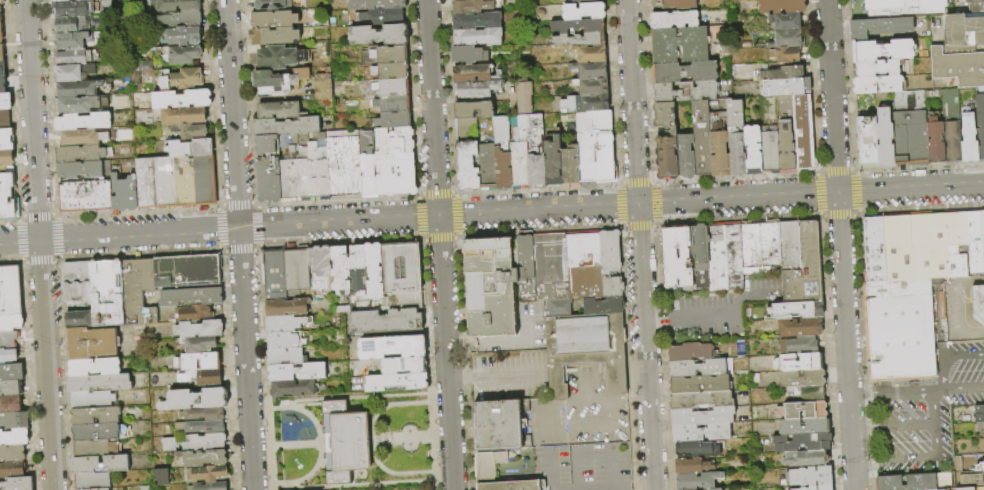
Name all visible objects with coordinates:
building: (60, 0)
building: (580, 1)
building: (2, 2)
building: (273, 4)
building: (376, 4)
building: (676, 4)
building: (176, 5)
building: (882, 5)
building: (974, 5)
building: (471, 6)
building: (781, 6)
building: (0, 8)
building: (76, 8)
building: (583, 11)
building: (0, 16)
building: (378, 17)
building: (182, 19)
building: (273, 20)
building: (476, 20)
building: (673, 20)
building: (787, 21)
building: (71, 24)
building: (880, 28)
building: (963, 29)
building: (1, 32)
building: (593, 33)
building: (379, 35)
building: (185, 36)
building: (274, 36)
building: (477, 36)
building: (787, 39)
building: (70, 40)
building: (680, 45)
building: (882, 51)
building: (1, 53)
building: (181, 54)
building: (467, 54)
building: (591, 54)
building: (787, 54)
building: (385, 55)
building: (76, 57)
building: (280, 57)
building: (146, 66)
building: (958, 68)
building: (2, 69)
building: (876, 69)
building: (592, 70)
building: (385, 72)
building: (683, 72)
building: (74, 73)
building: (471, 73)
building: (786, 73)
building: (135, 78)
building: (181, 79)
building: (279, 82)
building: (2, 85)
building: (879, 85)
building: (323, 86)
building: (593, 87)
building: (786, 87)
building: (80, 88)
building: (388, 88)
building: (475, 88)
building: (933, 94)
building: (688, 96)
building: (523, 97)
building: (179, 98)
building: (5, 101)
road: (631, 102)
building: (392, 103)
building: (585, 103)
building: (77, 105)
building: (473, 109)
building: (278, 110)
building: (734, 113)
building: (181, 115)
building: (663, 115)
building: (4, 118)
building: (392, 120)
building: (592, 121)
building: (84, 122)
building: (980, 125)
building: (286, 126)
building: (465, 127)
building: (187, 130)
building: (909, 130)
building: (803, 133)
building: (785, 135)
building: (82, 137)
building: (884, 138)
building: (6, 139)
building: (969, 140)
building: (952, 143)
building: (265, 144)
building: (867, 144)
building: (936, 144)
building: (187, 147)
building: (701, 149)
building: (753, 150)
building: (80, 152)
building: (502, 153)
building: (719, 153)
building: (769, 153)
building: (736, 154)
building: (519, 156)
building: (685, 156)
building: (6, 158)
building: (666, 158)
building: (586, 159)
building: (605, 159)
building: (395, 161)
building: (553, 162)
building: (344, 164)
building: (367, 164)
building: (467, 166)
building: (487, 166)
building: (81, 168)
building: (570, 168)
building: (302, 169)
building: (536, 172)
building: (202, 178)
building: (268, 179)
building: (182, 180)
building: (163, 181)
building: (144, 182)
building: (122, 192)
building: (83, 194)
traffic signals: (837, 194)
road: (810, 195)
building: (8, 197)
traffic signals: (637, 205)
road: (318, 224)
road: (239, 244)
building: (768, 244)
building: (787, 244)
building: (946, 244)
road: (39, 245)
road: (438, 245)
building: (749, 245)
road: (840, 245)
building: (897, 247)
building: (873, 250)
building: (609, 251)
building: (674, 256)
building: (698, 256)
building: (732, 257)
building: (715, 258)
building: (525, 263)
building: (551, 264)
building: (583, 264)
building: (320, 266)
building: (346, 266)
building: (402, 267)
building: (803, 268)
building: (297, 269)
building: (188, 270)
building: (375, 271)
building: (275, 276)
road: (970, 282)
building: (359, 285)
building: (490, 286)
building: (611, 286)
building: (77, 287)
building: (896, 289)
building: (138, 291)
building: (10, 292)
building: (107, 293)
road: (757, 295)
building: (191, 297)
building: (404, 301)
building: (977, 303)
road: (740, 306)
building: (287, 307)
parking lot: (721, 310)
building: (793, 311)
building: (193, 313)
road: (959, 314)
road: (707, 318)
building: (80, 320)
building: (386, 321)
road: (658, 321)
building: (10, 323)
building: (288, 323)
building: (793, 327)
building: (200, 329)
building: (899, 338)
building: (8, 340)
building: (289, 340)
road: (514, 342)
building: (92, 343)
building: (585, 343)
building: (197, 344)
road: (460, 345)
building: (798, 346)
building: (392, 347)
road: (645, 347)
building: (689, 352)
building: (9, 355)
building: (286, 357)
road: (949, 357)
building: (797, 363)
building: (185, 364)
building: (404, 365)
building: (95, 367)
building: (699, 367)
building: (11, 372)
building: (297, 372)
parking lot: (508, 375)
building: (202, 377)
road: (506, 377)
road: (459, 379)
building: (801, 379)
building: (397, 382)
building: (100, 383)
building: (698, 384)
building: (11, 388)
building: (294, 388)
road: (585, 390)
street lamp: (417, 391)
road: (928, 392)
building: (807, 393)
street lamp: (374, 394)
street lamp: (331, 396)
road: (367, 396)
road: (628, 397)
road: (861, 397)
building: (700, 399)
building: (94, 400)
building: (193, 400)
road: (581, 401)
street lamp: (274, 402)
road: (397, 403)
building: (11, 404)
road: (308, 405)
road: (295, 408)
street lamp: (303, 408)
parking lot: (924, 408)
building: (800, 410)
building: (203, 414)
building: (978, 414)
building: (95, 416)
building: (700, 417)
building: (965, 418)
building: (14, 421)
building: (500, 425)
building: (201, 427)
building: (803, 427)
road: (904, 427)
street lamp: (322, 430)
road: (585, 430)
road: (863, 430)
street lamp: (400, 431)
street lamp: (417, 431)
building: (100, 432)
building: (699, 433)
road: (421, 437)
building: (14, 438)
road: (371, 439)
park: (351, 441)
building: (197, 442)
building: (345, 442)
building: (801, 443)
road: (287, 445)
street lamp: (418, 445)
street lamp: (401, 446)
building: (93, 448)
building: (696, 449)
road: (934, 449)
building: (12, 453)
street lamp: (323, 456)
building: (203, 458)
building: (805, 458)
building: (983, 461)
building: (101, 464)
building: (489, 464)
building: (958, 464)
building: (691, 466)
road: (869, 467)
building: (980, 467)
building: (12, 469)
road: (400, 473)
building: (206, 474)
building: (159, 476)
building: (807, 477)
building: (92, 480)
road: (298, 480)
building: (970, 480)
road: (411, 481)
building: (696, 481)
building: (914, 482)
building: (17, 484)
street lamp: (303, 484)
road: (361, 485)
street lamp: (423, 485)
building: (514, 485)
building: (209, 486)
street lamp: (376, 486)
road: (322, 487)
building: (811, 488)
building: (824, 488)
building: (98, 489)
street lamp: (340, 489)
building: (715, 489)
building: (799, 489)
building: (941, 489)
building: (966, 489)

